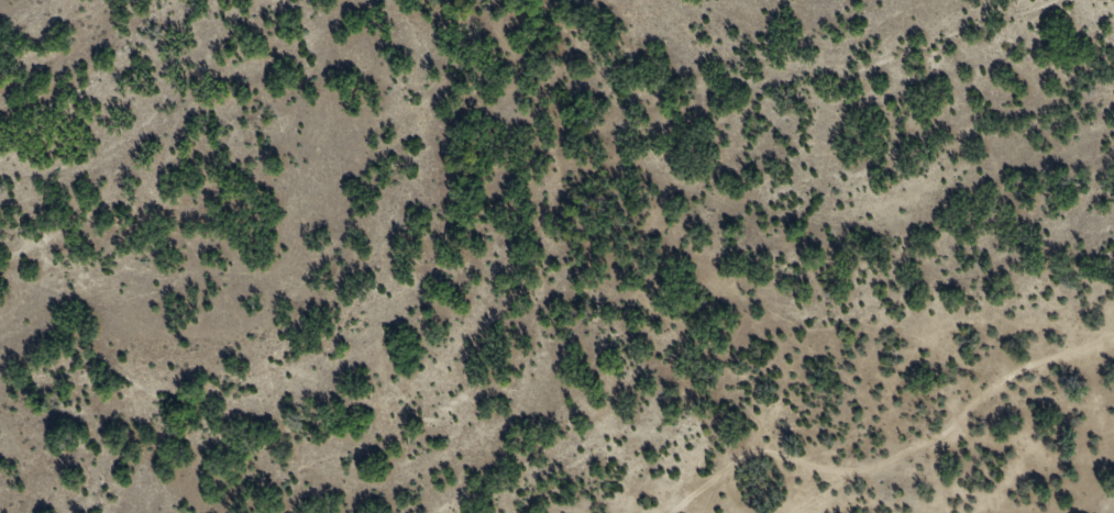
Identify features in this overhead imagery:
road: (908, 376)

